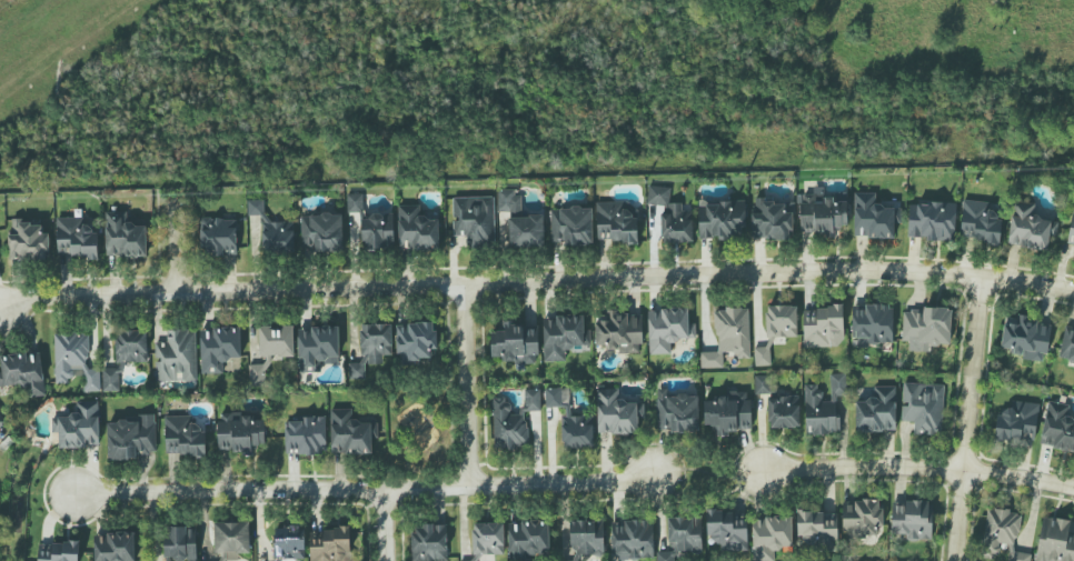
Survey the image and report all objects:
building: (355, 202)
building: (509, 202)
building: (822, 212)
building: (672, 217)
building: (873, 217)
building: (475, 220)
building: (722, 220)
building: (769, 220)
building: (931, 220)
building: (979, 221)
building: (616, 223)
building: (571, 226)
building: (1030, 228)
building: (416, 229)
building: (1072, 229)
building: (272, 230)
building: (378, 231)
building: (526, 231)
building: (321, 232)
building: (123, 237)
building: (218, 237)
building: (76, 239)
building: (28, 241)
road: (171, 241)
road: (536, 281)
building: (872, 323)
building: (926, 325)
building: (823, 327)
building: (668, 329)
building: (776, 330)
building: (619, 332)
building: (564, 337)
building: (728, 337)
building: (1026, 338)
building: (276, 341)
building: (415, 342)
building: (515, 342)
building: (1067, 344)
building: (131, 345)
building: (317, 347)
building: (218, 348)
building: (371, 348)
building: (177, 357)
building: (74, 361)
building: (23, 372)
building: (257, 375)
building: (111, 378)
road: (466, 384)
building: (824, 407)
building: (923, 407)
building: (876, 411)
building: (676, 412)
building: (728, 412)
building: (784, 412)
building: (617, 413)
road: (966, 419)
building: (570, 420)
building: (513, 421)
building: (1017, 422)
building: (79, 427)
building: (1057, 428)
building: (239, 433)
building: (350, 433)
building: (183, 437)
building: (305, 437)
building: (131, 438)
road: (918, 468)
road: (707, 472)
road: (362, 490)
building: (862, 519)
building: (912, 519)
road: (384, 525)
building: (728, 529)
building: (817, 530)
building: (1003, 532)
building: (770, 535)
building: (682, 537)
building: (587, 538)
building: (231, 539)
building: (488, 539)
building: (528, 540)
building: (634, 540)
building: (1055, 541)
building: (289, 542)
building: (429, 542)
building: (180, 543)
building: (330, 544)
building: (115, 547)
building: (169, 560)
building: (470, 560)

